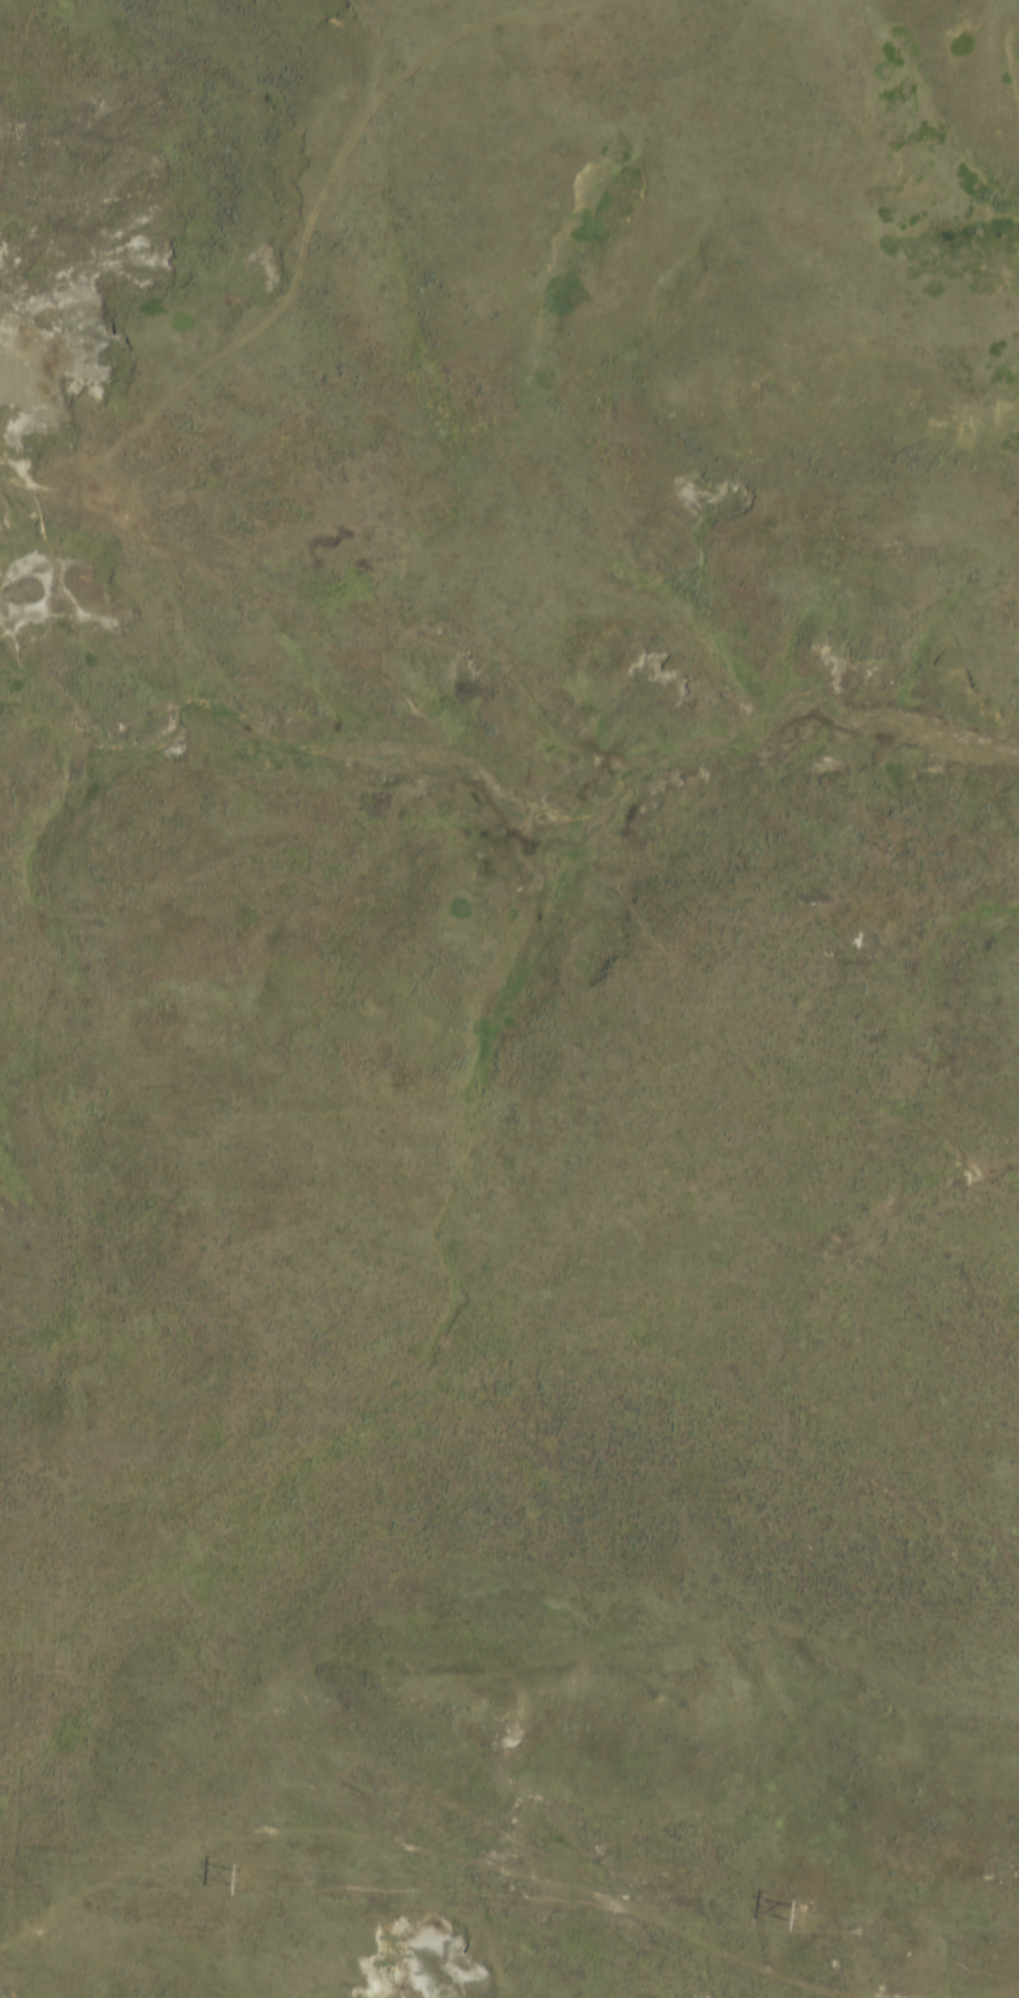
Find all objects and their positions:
road: (310, 228)
power tower: (241, 1879)
power tower: (848, 1918)

